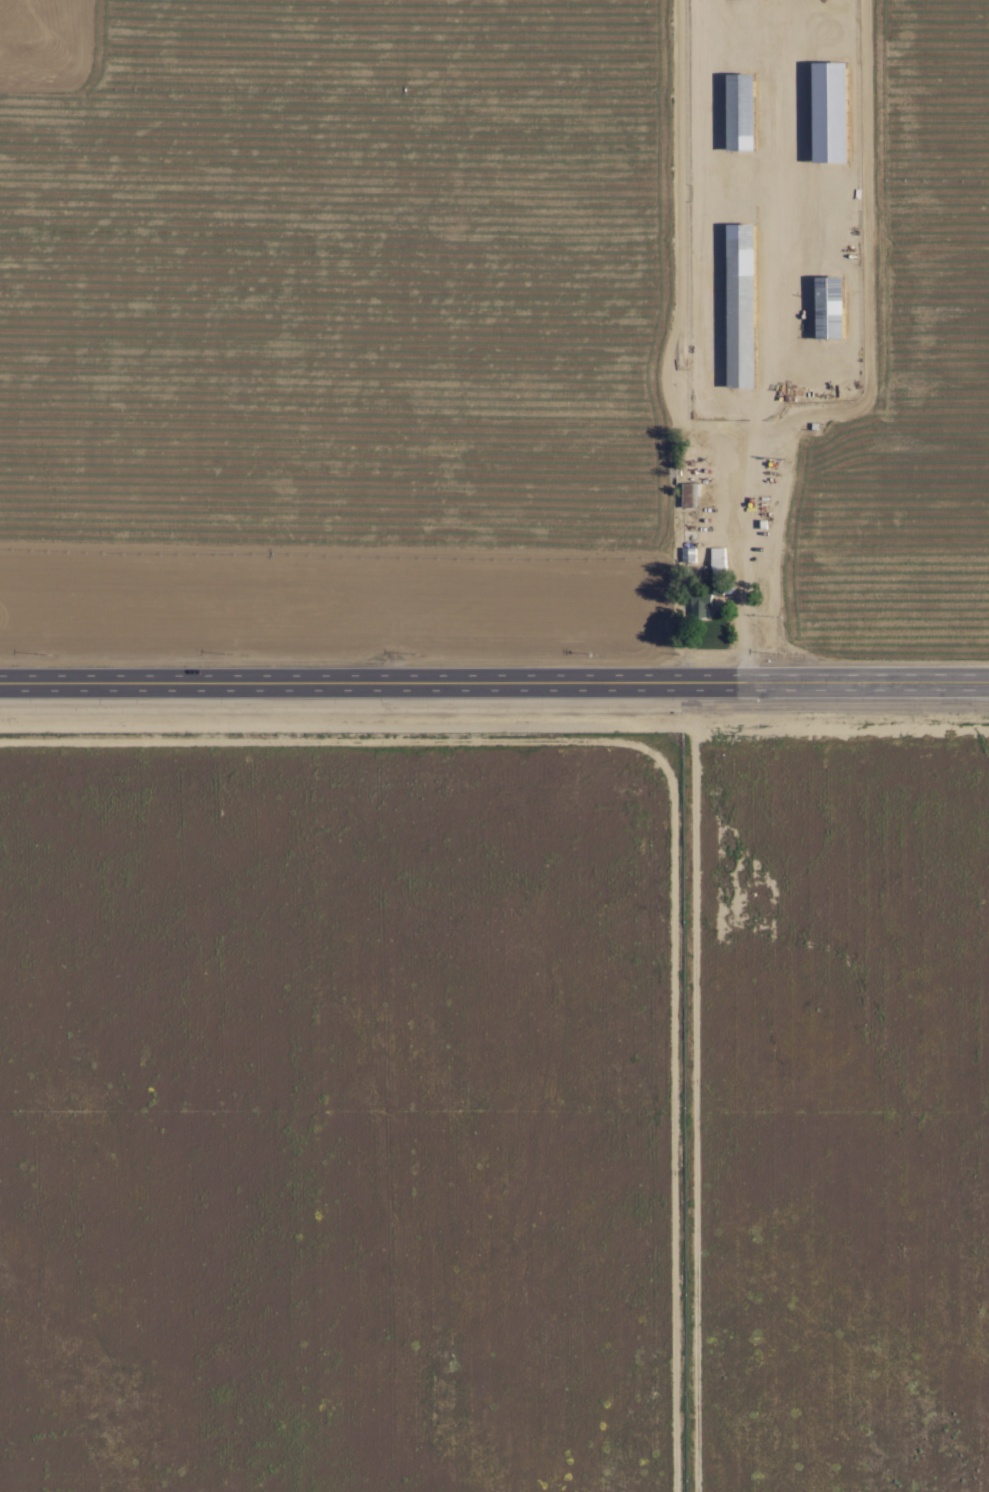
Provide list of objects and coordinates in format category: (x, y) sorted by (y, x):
building: (741, 110)
building: (831, 110)
building: (742, 305)
building: (830, 307)
road: (678, 358)
crop: (454, 361)
building: (698, 455)
building: (688, 521)
building: (718, 560)
building: (697, 604)
road: (494, 681)

